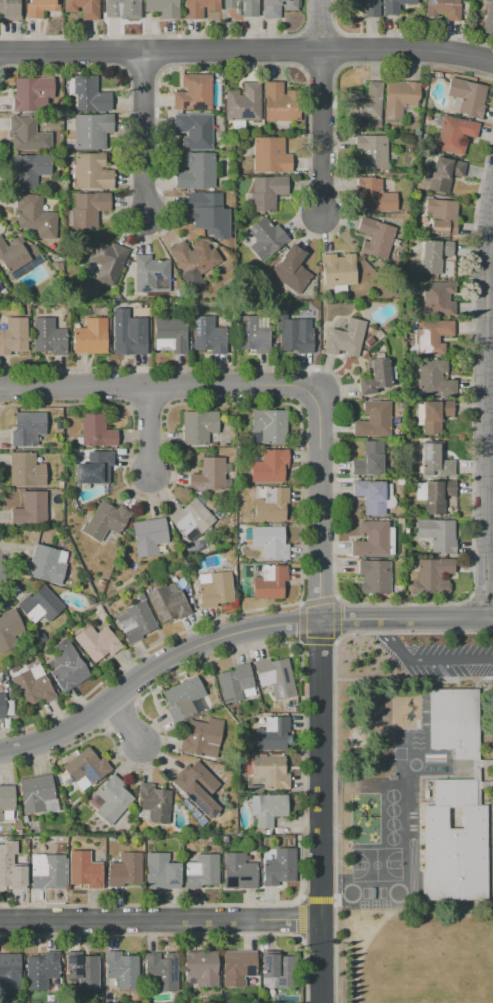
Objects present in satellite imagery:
building: (394, 5)
building: (40, 7)
building: (118, 7)
building: (199, 7)
building: (242, 7)
building: (365, 7)
building: (9, 8)
building: (83, 8)
building: (163, 8)
building: (276, 8)
building: (444, 8)
building: (488, 19)
road: (319, 31)
road: (399, 34)
road: (166, 35)
road: (340, 48)
road: (298, 49)
road: (247, 51)
road: (125, 54)
road: (159, 54)
road: (246, 64)
road: (320, 70)
road: (142, 73)
building: (193, 92)
building: (31, 93)
building: (90, 94)
building: (466, 97)
building: (399, 98)
building: (280, 102)
building: (364, 102)
building: (243, 103)
road: (320, 107)
building: (194, 130)
building: (88, 132)
road: (144, 134)
building: (453, 134)
building: (27, 135)
building: (371, 152)
building: (270, 154)
building: (29, 170)
building: (196, 171)
building: (92, 172)
building: (443, 172)
building: (266, 192)
building: (374, 195)
building: (207, 207)
building: (87, 209)
building: (442, 215)
building: (34, 216)
road: (482, 229)
building: (375, 237)
building: (265, 238)
building: (15, 253)
road: (490, 254)
building: (433, 255)
building: (194, 258)
building: (107, 261)
building: (290, 269)
building: (338, 269)
building: (150, 274)
road: (482, 277)
building: (174, 294)
building: (438, 299)
building: (179, 315)
building: (130, 334)
building: (14, 335)
building: (170, 335)
building: (207, 335)
building: (252, 335)
building: (296, 335)
building: (48, 336)
building: (90, 336)
building: (431, 336)
building: (344, 339)
building: (369, 341)
building: (376, 377)
building: (433, 378)
road: (159, 385)
road: (165, 385)
road: (130, 386)
road: (486, 403)
road: (147, 405)
road: (166, 405)
road: (128, 406)
building: (432, 415)
building: (373, 419)
building: (270, 426)
building: (198, 427)
building: (27, 428)
road: (148, 428)
building: (96, 431)
road: (300, 431)
building: (433, 457)
building: (368, 459)
building: (269, 466)
building: (94, 467)
building: (25, 470)
building: (208, 474)
building: (412, 481)
building: (399, 482)
building: (434, 495)
building: (370, 496)
building: (209, 504)
building: (270, 504)
road: (317, 506)
building: (29, 509)
building: (415, 516)
building: (191, 519)
building: (106, 520)
building: (400, 521)
building: (437, 534)
building: (149, 536)
building: (373, 539)
building: (269, 541)
building: (47, 564)
road: (14, 566)
building: (432, 575)
building: (373, 576)
building: (269, 582)
building: (100, 583)
building: (214, 589)
building: (186, 590)
building: (139, 597)
road: (480, 597)
building: (90, 600)
road: (317, 600)
building: (167, 602)
road: (298, 602)
building: (190, 603)
road: (354, 603)
building: (40, 605)
road: (335, 617)
building: (135, 622)
road: (299, 623)
building: (10, 631)
road: (232, 633)
building: (40, 637)
road: (317, 640)
building: (97, 642)
road: (297, 643)
road: (422, 659)
building: (67, 666)
building: (274, 673)
building: (236, 684)
building: (33, 685)
road: (120, 690)
building: (185, 700)
road: (136, 703)
road: (300, 705)
building: (5, 707)
building: (292, 709)
road: (93, 713)
road: (120, 716)
road: (125, 722)
road: (105, 731)
building: (272, 733)
building: (202, 738)
road: (333, 741)
building: (240, 759)
building: (209, 763)
building: (85, 769)
building: (270, 771)
building: (195, 783)
building: (255, 788)
building: (37, 794)
building: (112, 799)
building: (153, 801)
building: (6, 802)
building: (455, 804)
building: (267, 809)
road: (320, 811)
building: (24, 819)
building: (207, 828)
building: (18, 832)
building: (258, 832)
building: (267, 832)
building: (224, 838)
building: (0, 840)
building: (10, 867)
building: (279, 867)
building: (84, 870)
building: (124, 871)
building: (202, 871)
building: (238, 871)
building: (47, 872)
building: (161, 872)
road: (315, 899)
road: (160, 917)
road: (299, 918)
road: (183, 933)
building: (238, 967)
building: (202, 968)
building: (279, 969)
building: (41, 970)
building: (121, 970)
building: (10, 971)
building: (83, 971)
building: (161, 971)
building: (98, 998)
building: (225, 1000)

